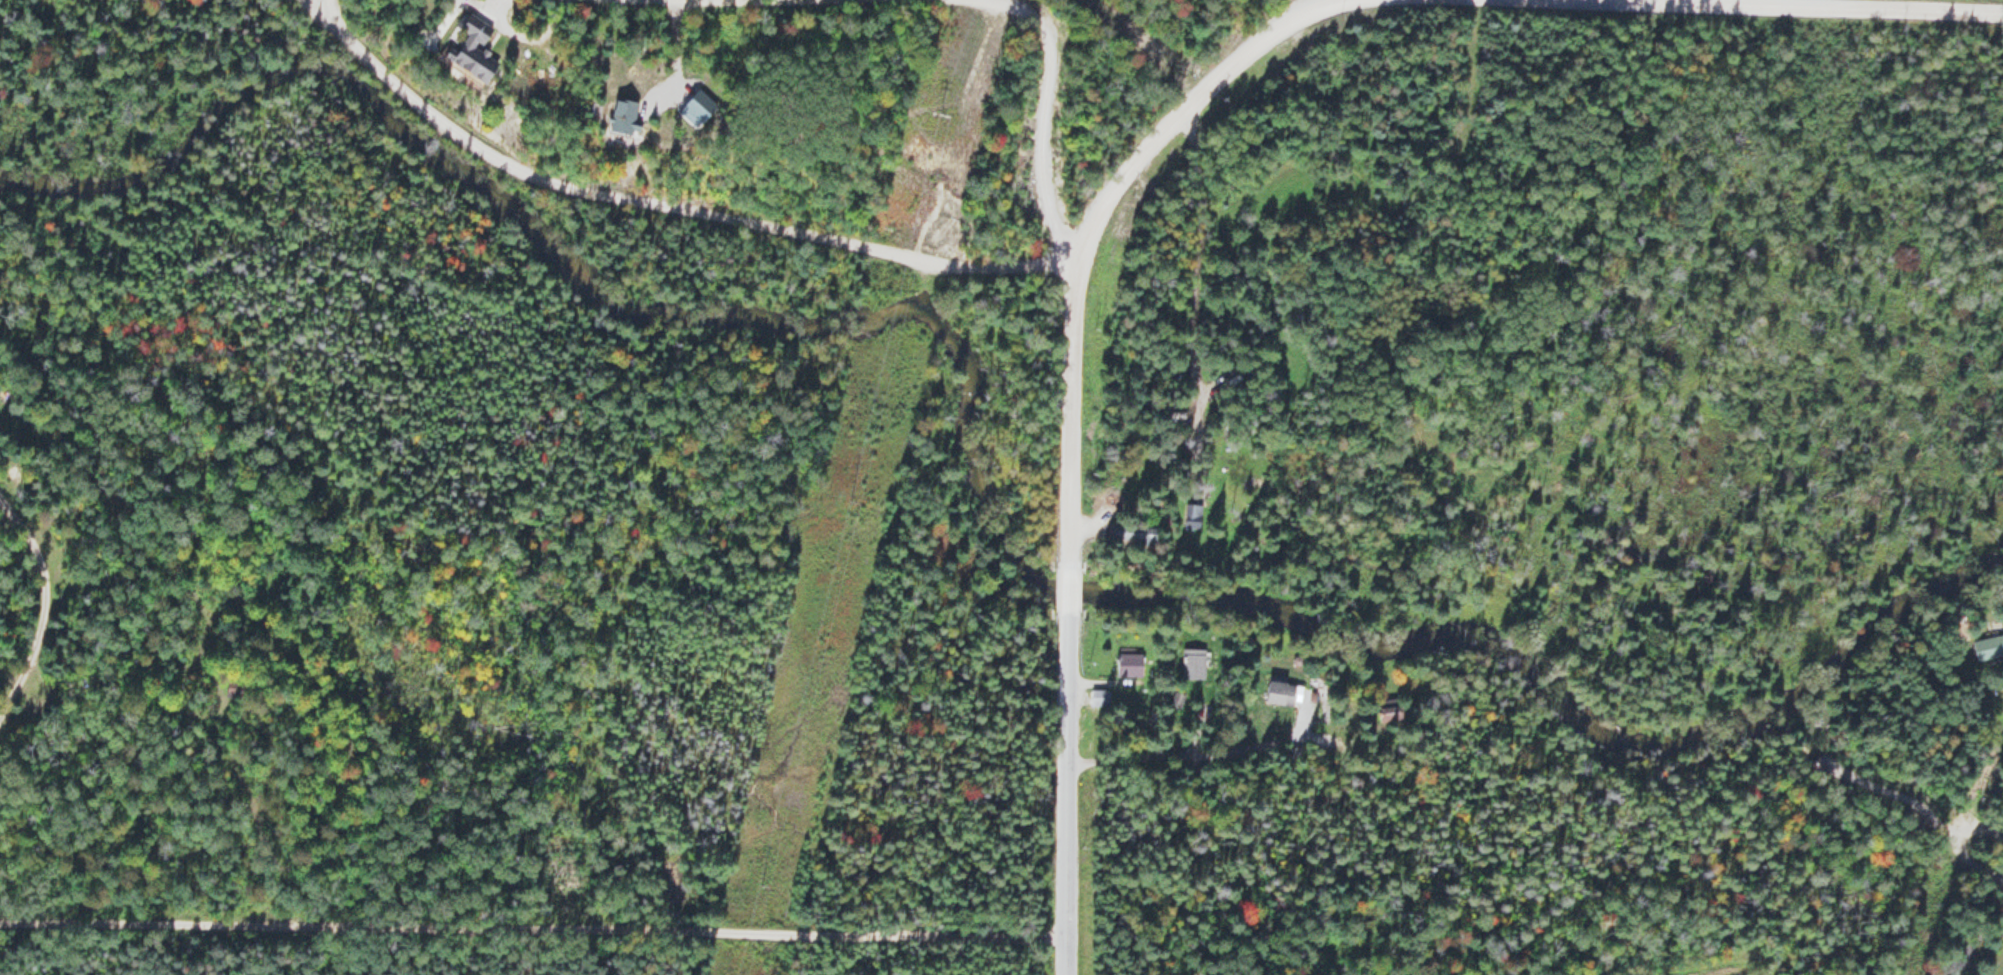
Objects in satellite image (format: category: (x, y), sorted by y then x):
road: (1313, 2)
road: (487, 4)
road: (1860, 6)
road: (334, 7)
building: (475, 50)
road: (1042, 111)
building: (625, 117)
road: (968, 131)
road: (844, 240)
road: (1192, 302)
road: (1069, 398)
river: (967, 445)
building: (1192, 516)
building: (1136, 534)
road: (1068, 582)
road: (35, 602)
building: (1988, 647)
building: (1129, 662)
building: (1193, 663)
building: (1285, 693)
building: (1099, 697)
building: (1393, 710)
road: (1066, 794)
road: (463, 927)
road: (996, 933)

